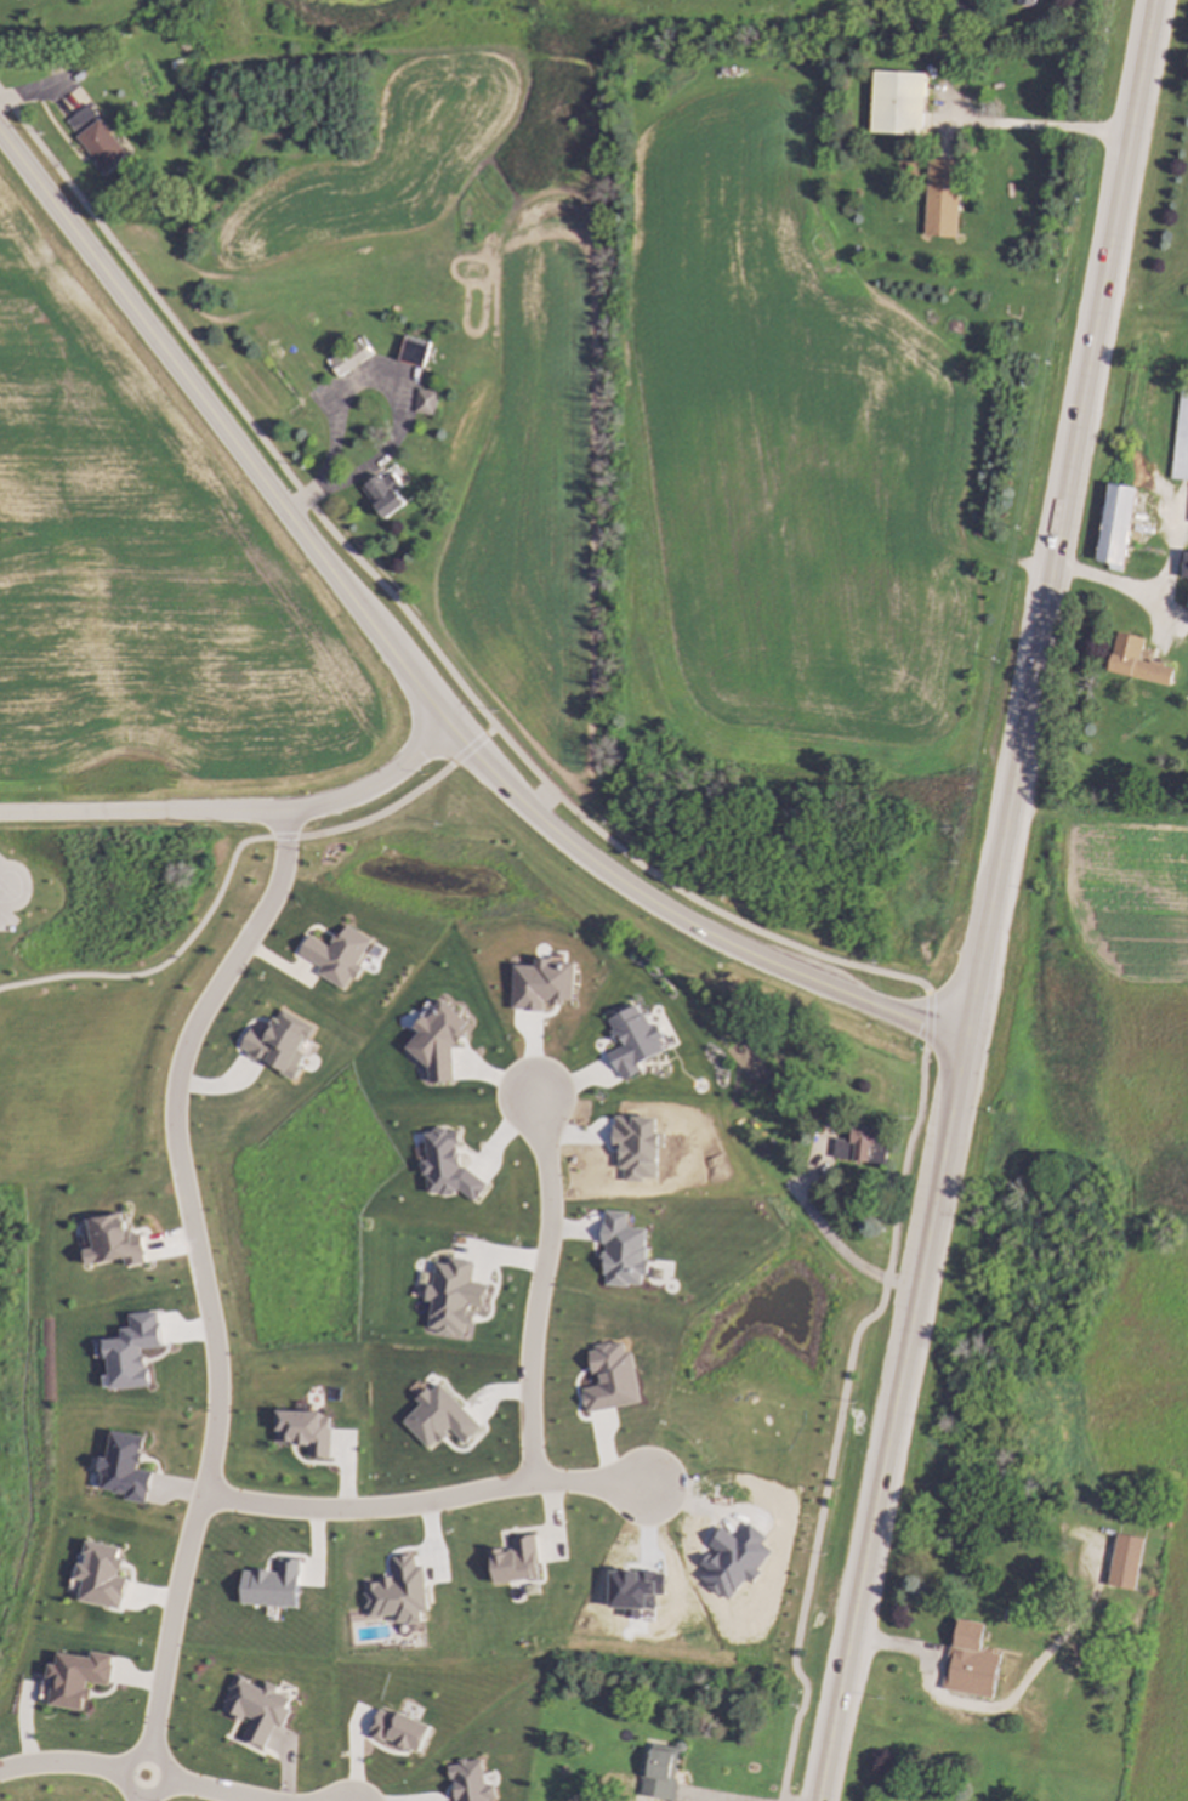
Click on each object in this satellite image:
building: (1025, 2)
building: (897, 103)
road: (1039, 130)
building: (101, 144)
crop: (374, 167)
building: (942, 198)
building: (414, 351)
building: (349, 357)
road: (369, 377)
building: (426, 402)
building: (1181, 436)
crop: (790, 444)
building: (385, 494)
crop: (534, 496)
building: (1116, 525)
building: (1184, 566)
road: (1149, 592)
road: (1170, 604)
building: (1137, 660)
road: (408, 677)
road: (237, 809)
road: (24, 887)
road: (991, 901)
road: (706, 904)
building: (337, 956)
building: (544, 984)
crop: (1135, 999)
building: (439, 1036)
building: (635, 1040)
building: (280, 1042)
building: (860, 1151)
road: (535, 1288)
road: (205, 1296)
crop: (1143, 1464)
road: (420, 1499)
building: (966, 1646)
road: (130, 1771)
building: (658, 1777)
road: (694, 1799)

